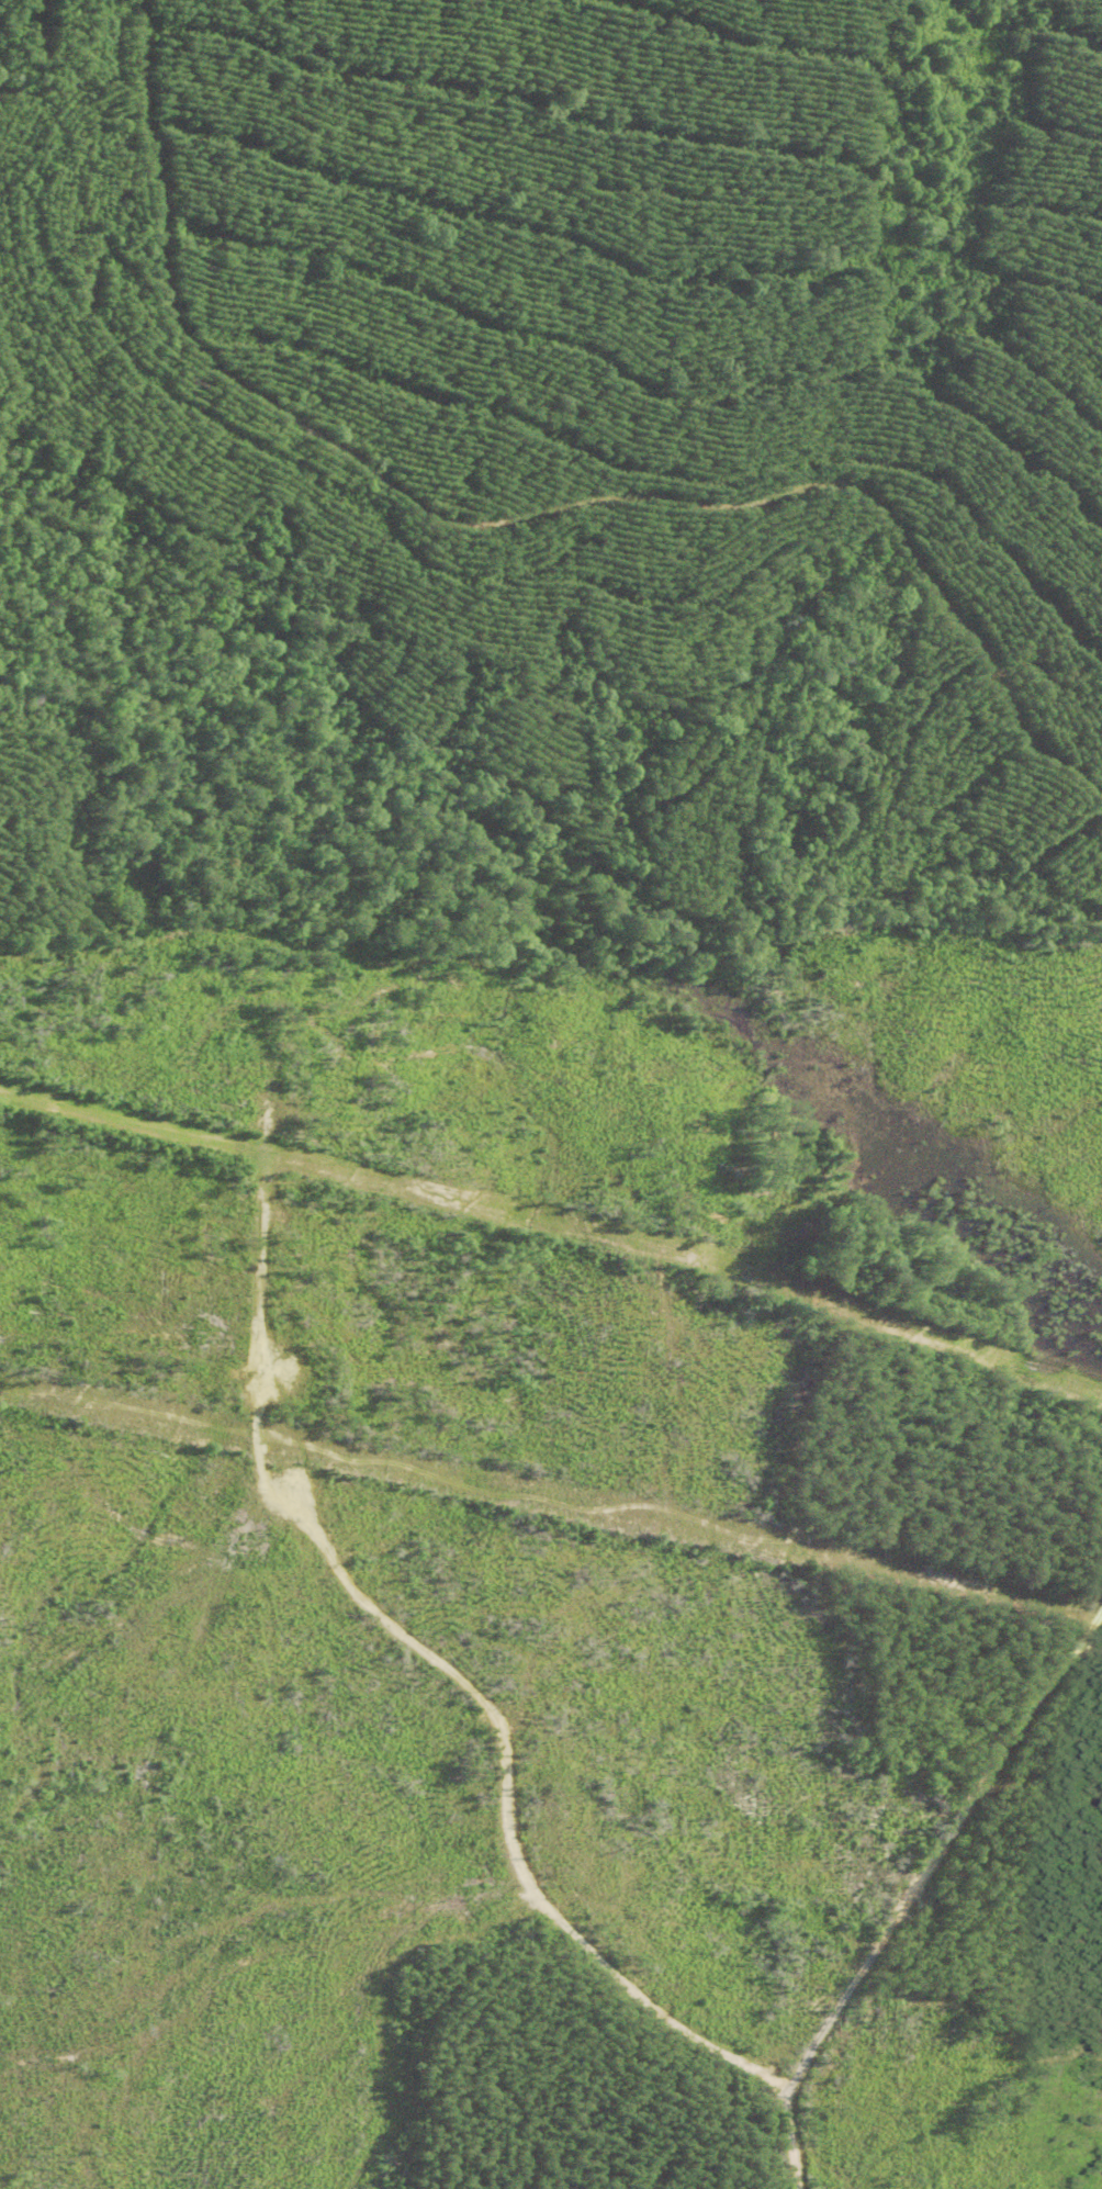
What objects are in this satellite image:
road: (914, 1898)

